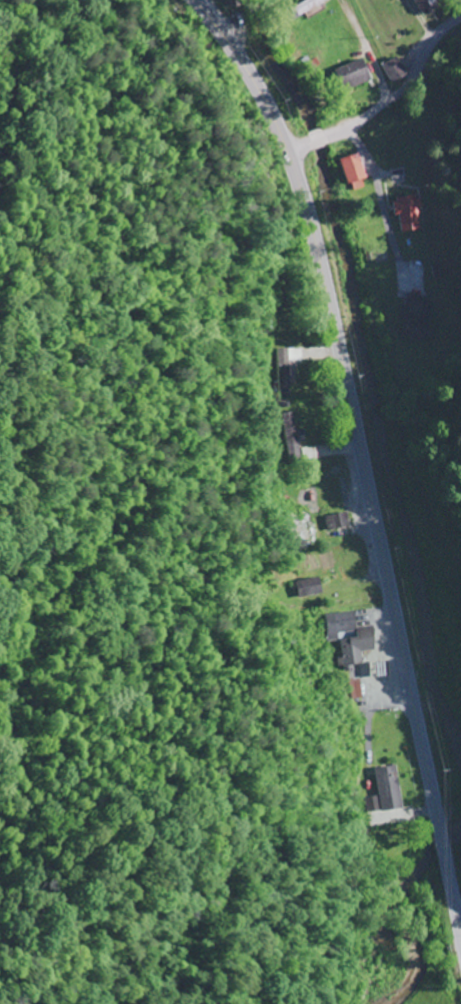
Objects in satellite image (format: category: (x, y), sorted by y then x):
building: (421, 6)
building: (300, 9)
road: (250, 39)
building: (390, 69)
building: (348, 75)
road: (387, 101)
building: (349, 172)
building: (405, 214)
building: (413, 315)
building: (287, 370)
building: (291, 436)
road: (361, 453)
building: (334, 522)
building: (302, 534)
building: (306, 588)
building: (346, 637)
building: (383, 792)

